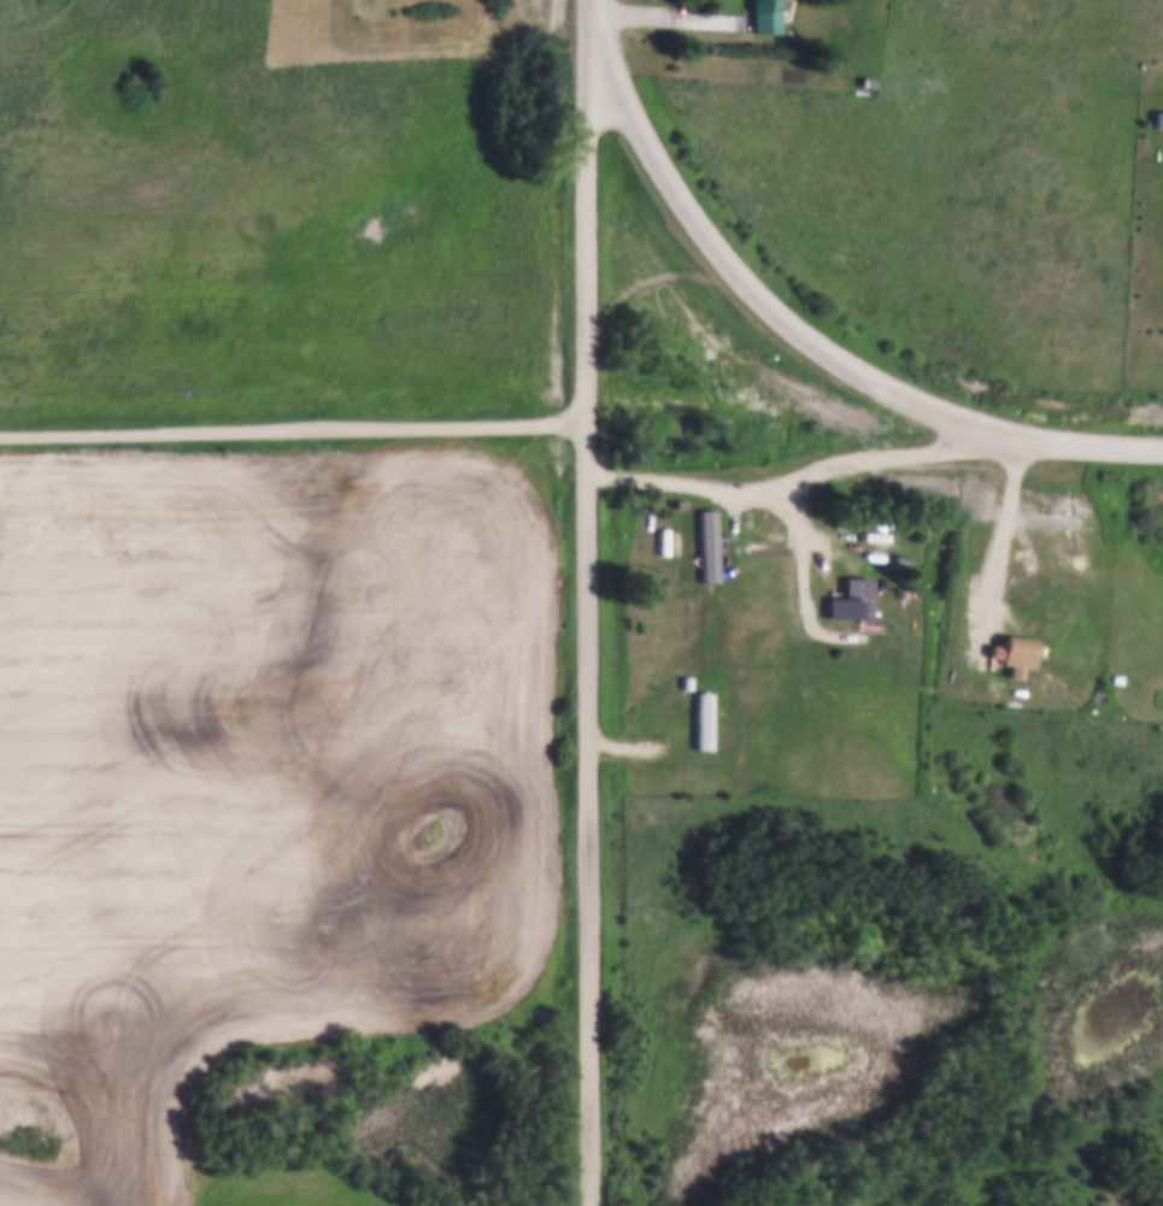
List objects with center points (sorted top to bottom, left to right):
road: (591, 13)
road: (666, 14)
building: (764, 14)
building: (867, 80)
building: (1158, 114)
road: (810, 334)
road: (294, 428)
road: (807, 471)
building: (679, 501)
road: (1004, 537)
building: (706, 543)
building: (850, 596)
road: (588, 617)
building: (1012, 651)
building: (704, 718)

